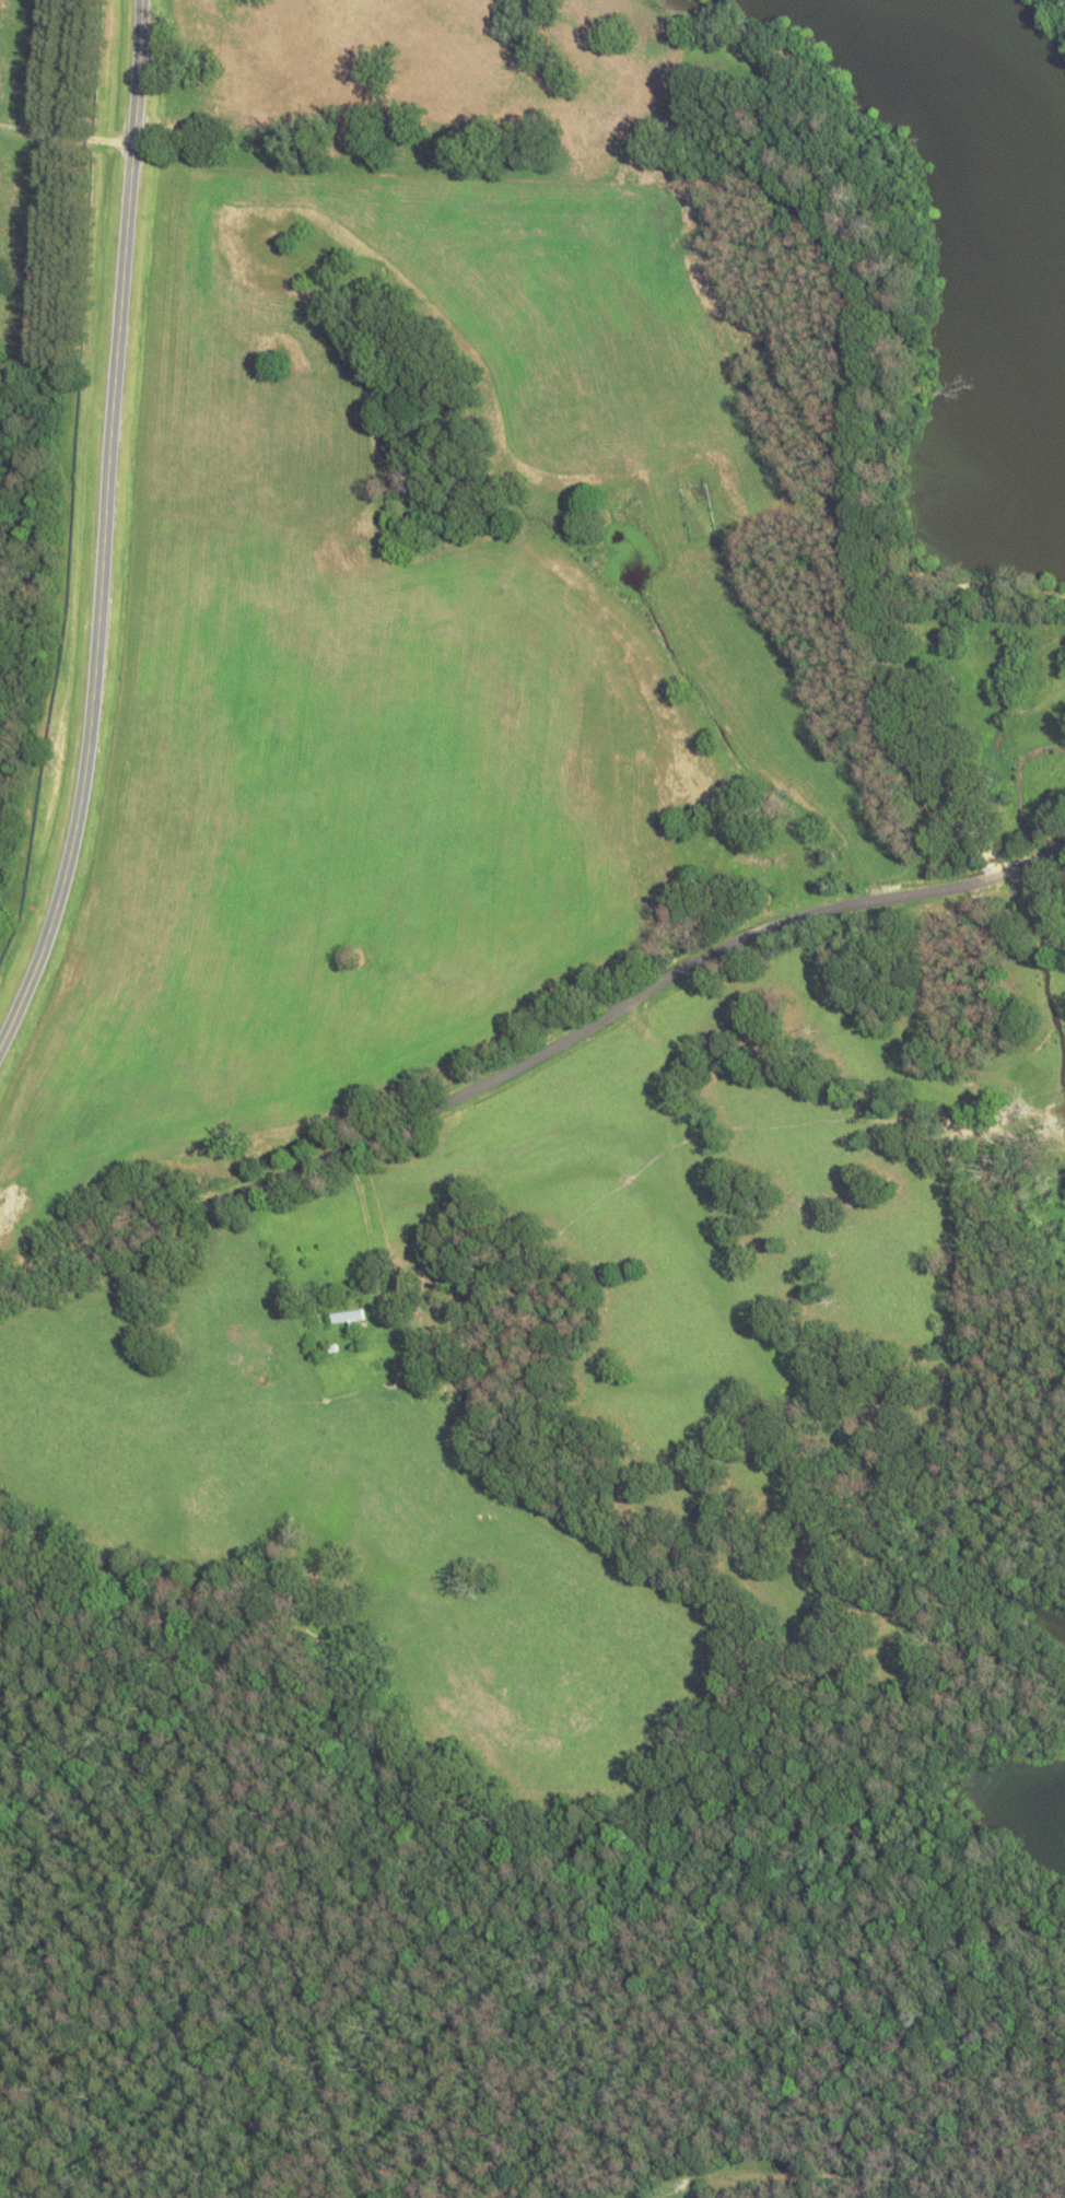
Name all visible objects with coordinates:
road: (104, 526)
road: (526, 1052)
building: (347, 1318)

